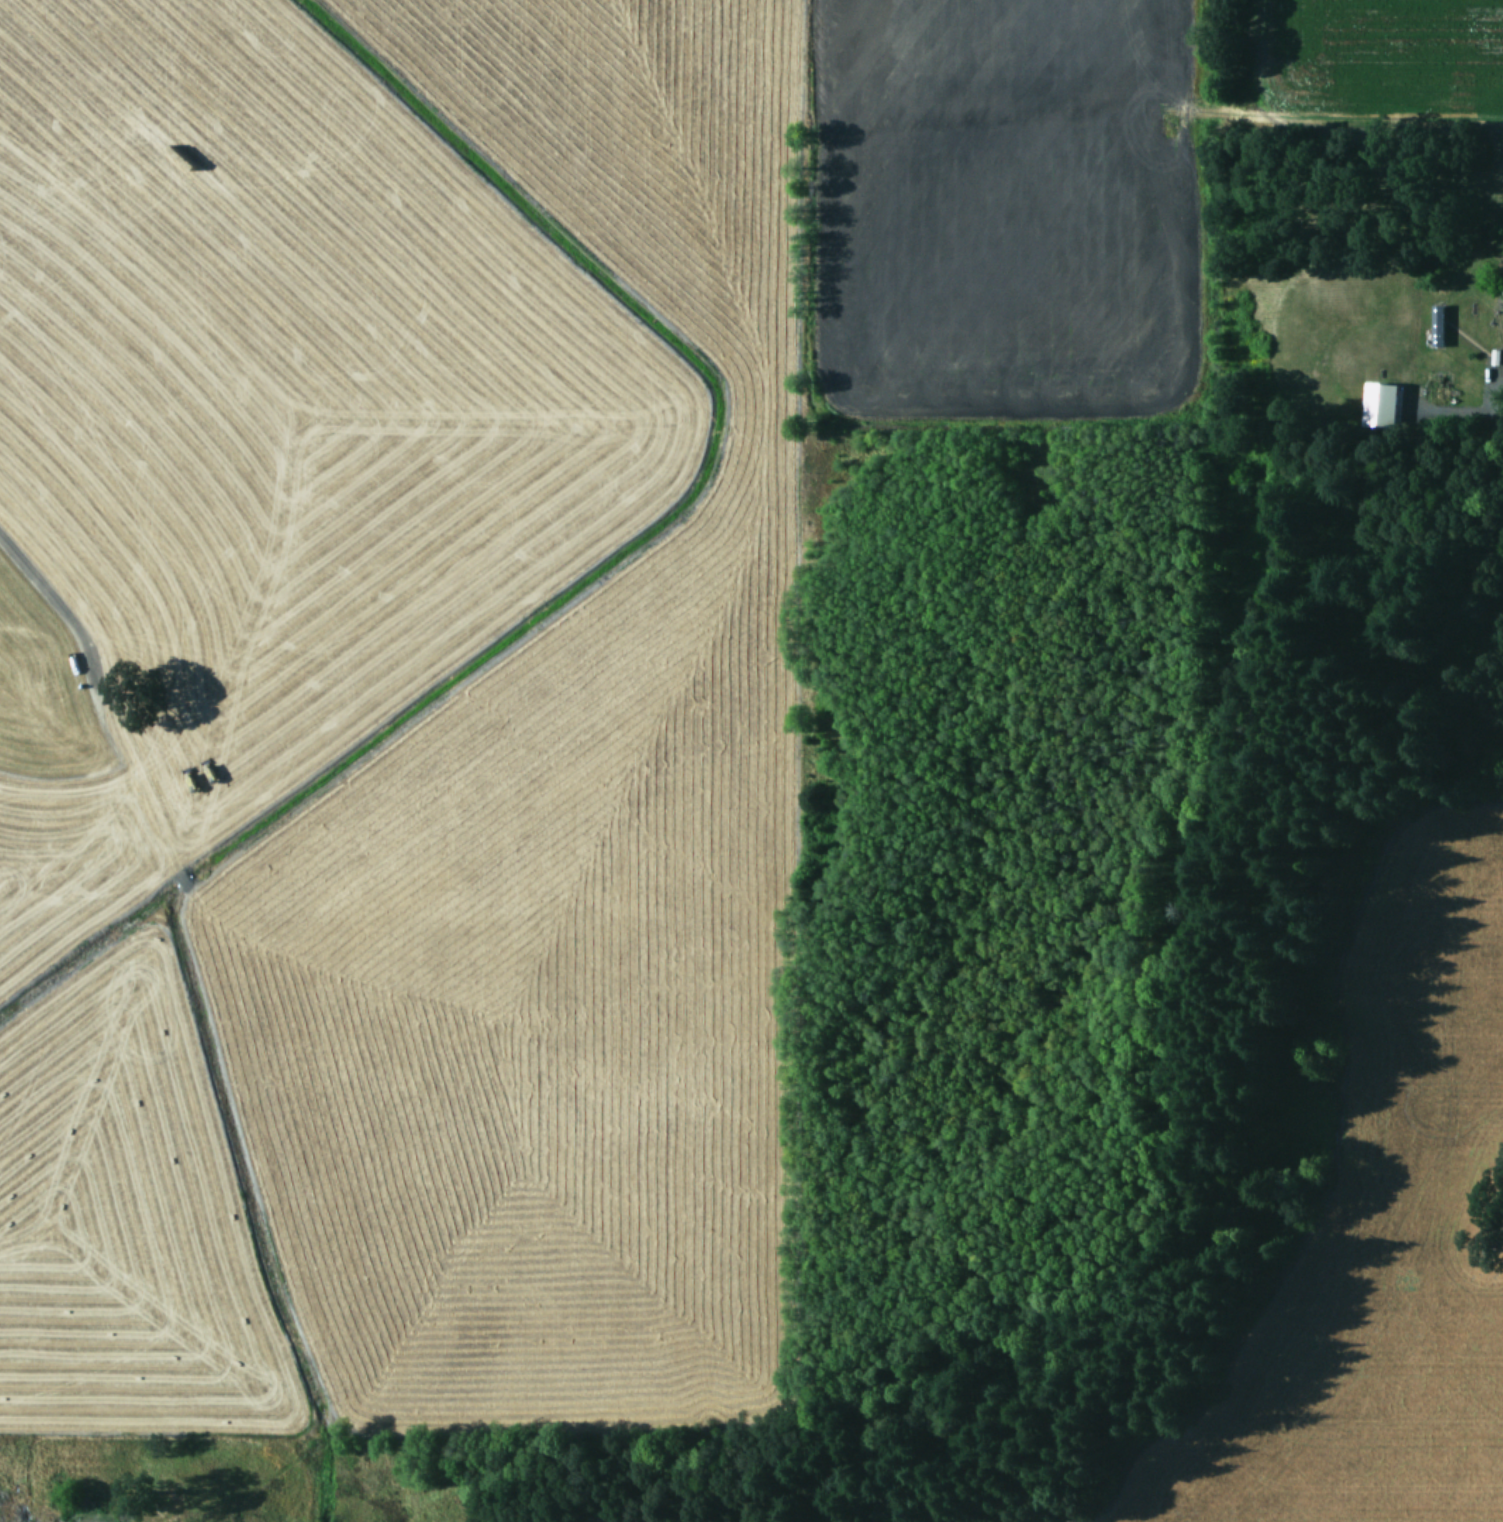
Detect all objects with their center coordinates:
building: (1436, 324)
building: (1379, 403)
crop: (535, 622)
crop: (1366, 1242)

